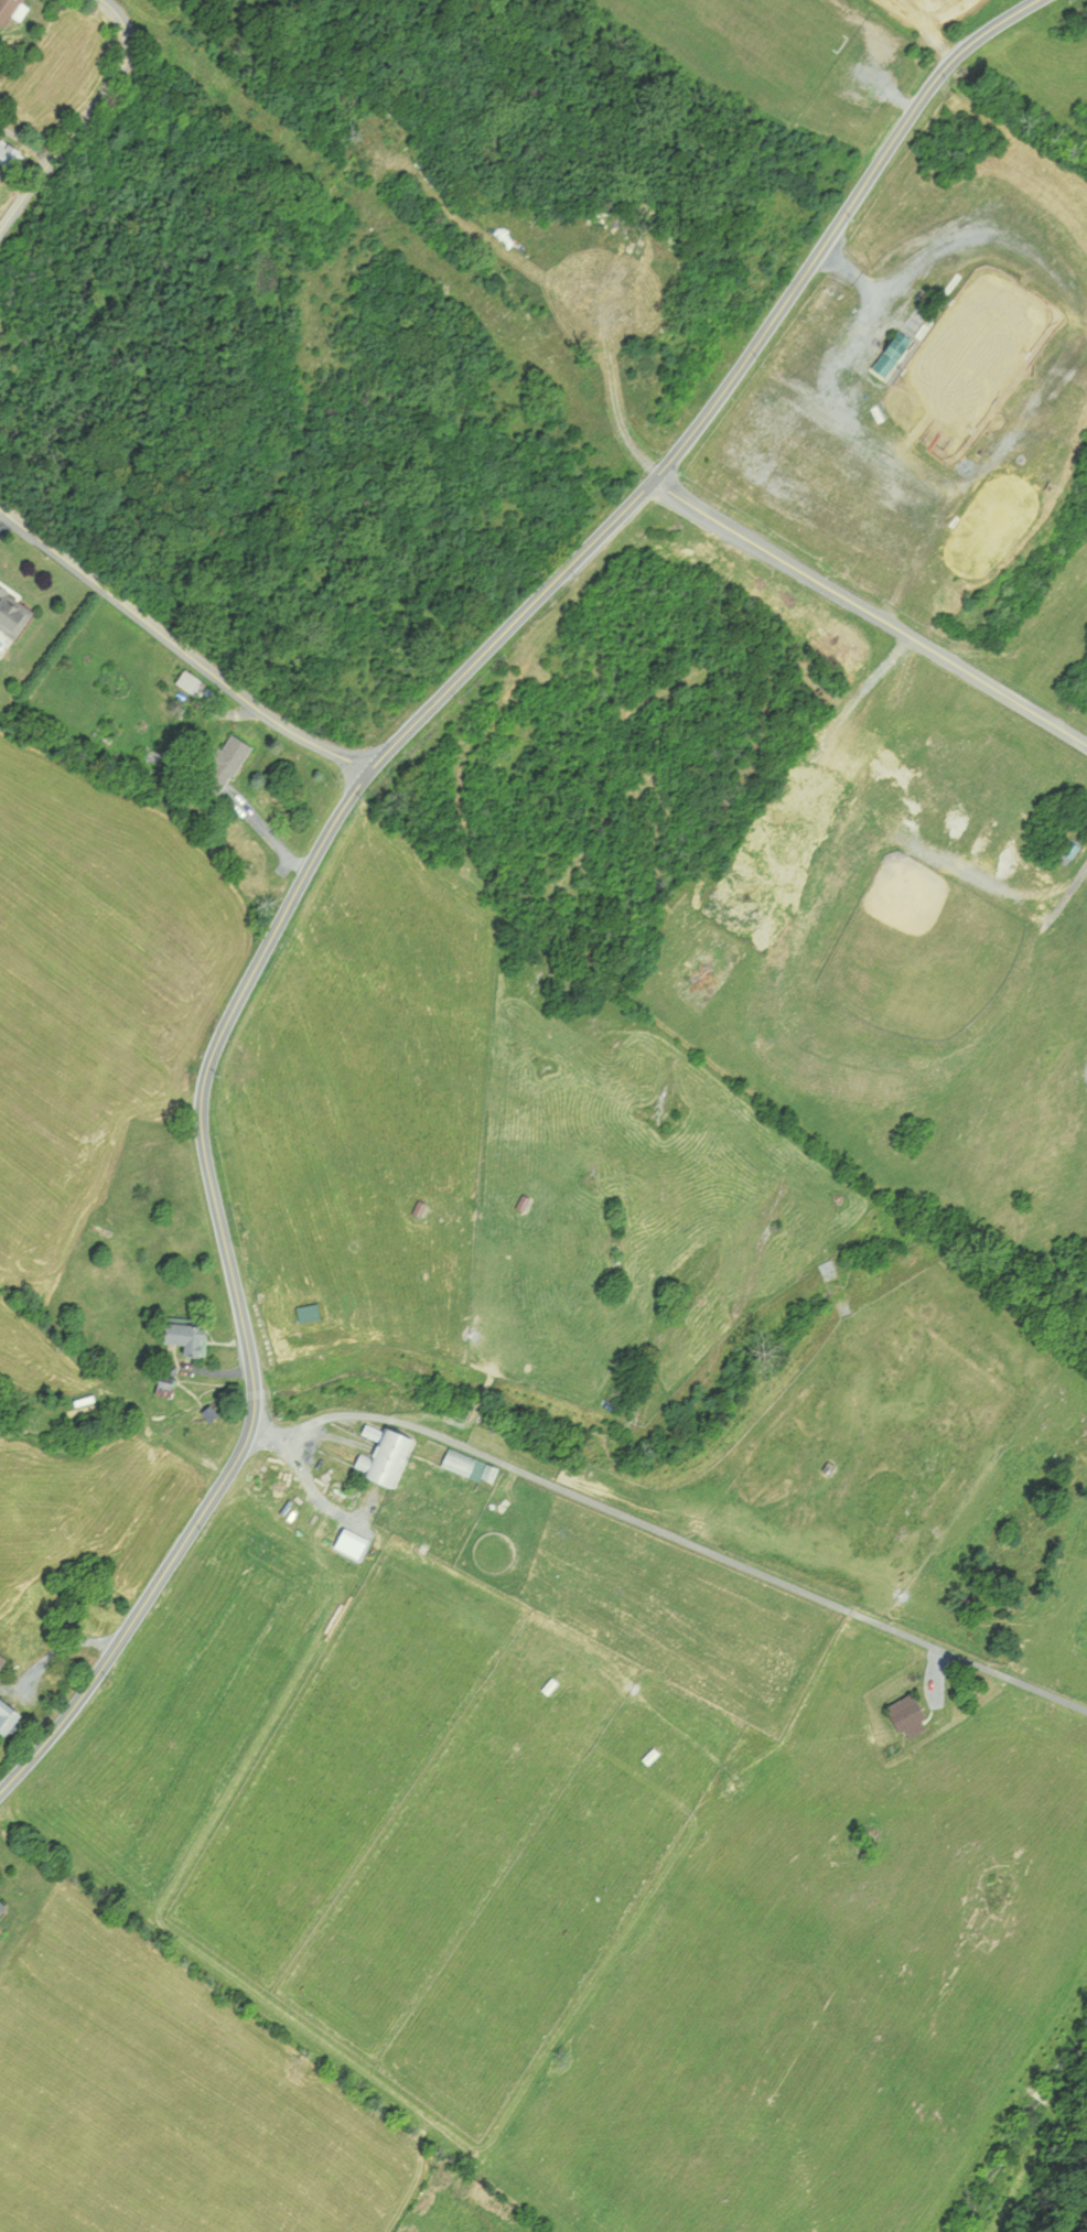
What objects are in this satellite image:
building: (10, 10)
road: (83, 119)
building: (9, 153)
building: (895, 353)
road: (870, 610)
building: (14, 613)
road: (180, 647)
building: (192, 682)
building: (230, 759)
road: (334, 822)
building: (310, 1312)
building: (191, 1337)
building: (387, 1454)
building: (470, 1465)
road: (672, 1535)
building: (2, 1660)
building: (9, 1716)
building: (912, 1716)
building: (3, 1908)

